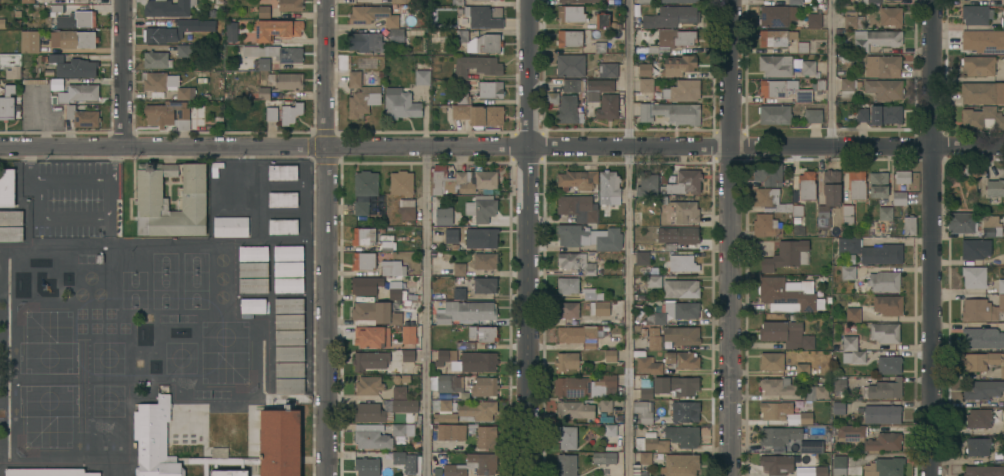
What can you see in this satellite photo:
building: (498, 0)
building: (578, 0)
building: (27, 1)
building: (400, 1)
building: (679, 1)
building: (457, 2)
building: (644, 2)
building: (798, 2)
building: (1002, 2)
building: (290, 5)
building: (167, 7)
building: (57, 8)
building: (264, 11)
building: (571, 13)
building: (975, 15)
building: (481, 16)
building: (777, 16)
building: (671, 17)
building: (811, 17)
building: (890, 17)
building: (852, 18)
building: (77, 19)
building: (602, 20)
building: (1002, 20)
building: (2, 23)
building: (187, 25)
building: (393, 25)
building: (276, 29)
building: (231, 31)
building: (154, 35)
building: (569, 38)
building: (776, 38)
building: (77, 39)
building: (876, 39)
building: (672, 40)
building: (480, 41)
building: (983, 41)
building: (31, 42)
building: (365, 42)
building: (600, 47)
building: (802, 47)
building: (183, 50)
building: (275, 52)
building: (156, 59)
building: (265, 63)
building: (11, 65)
building: (570, 65)
building: (73, 66)
building: (477, 66)
building: (678, 66)
building: (775, 66)
building: (883, 66)
building: (978, 66)
building: (808, 68)
building: (607, 70)
building: (644, 70)
building: (49, 73)
road: (126, 75)
road: (830, 75)
building: (422, 76)
building: (34, 81)
building: (289, 81)
building: (572, 84)
building: (165, 85)
building: (821, 85)
building: (646, 86)
building: (598, 87)
building: (848, 87)
building: (490, 89)
building: (884, 89)
building: (784, 90)
building: (682, 91)
building: (263, 93)
building: (982, 93)
building: (361, 95)
building: (463, 96)
building: (552, 98)
building: (7, 103)
building: (401, 105)
building: (608, 106)
building: (70, 107)
building: (568, 109)
building: (170, 113)
building: (670, 113)
building: (478, 114)
building: (775, 114)
building: (282, 115)
building: (862, 115)
building: (885, 115)
building: (812, 116)
building: (982, 119)
road: (502, 149)
road: (28, 165)
building: (282, 172)
building: (233, 173)
building: (769, 174)
building: (902, 177)
road: (73, 179)
building: (577, 179)
building: (461, 180)
building: (401, 182)
building: (365, 183)
building: (648, 184)
building: (683, 184)
building: (609, 185)
building: (878, 185)
building: (806, 186)
building: (855, 186)
building: (7, 187)
building: (995, 188)
parking lot: (71, 196)
building: (152, 198)
building: (282, 199)
building: (899, 199)
building: (233, 200)
building: (775, 202)
building: (828, 202)
building: (361, 207)
building: (578, 207)
building: (481, 208)
building: (407, 209)
building: (684, 213)
building: (885, 214)
building: (443, 215)
building: (847, 215)
building: (11, 217)
road: (90, 217)
building: (962, 223)
building: (230, 226)
building: (282, 226)
building: (765, 226)
building: (909, 226)
building: (992, 232)
building: (11, 233)
building: (451, 235)
building: (363, 236)
building: (589, 236)
building: (678, 236)
road: (328, 237)
road: (530, 237)
road: (626, 237)
building: (483, 238)
road: (729, 238)
road: (930, 238)
building: (387, 245)
building: (975, 249)
building: (253, 252)
building: (288, 252)
building: (871, 252)
building: (787, 256)
building: (642, 258)
building: (997, 258)
building: (485, 260)
building: (364, 261)
building: (576, 262)
building: (682, 265)
building: (288, 268)
building: (253, 269)
building: (393, 269)
building: (459, 269)
building: (848, 273)
building: (974, 277)
building: (651, 279)
building: (884, 281)
building: (288, 284)
building: (485, 284)
building: (567, 284)
building: (253, 285)
building: (367, 287)
building: (1001, 287)
building: (680, 289)
building: (394, 291)
building: (459, 293)
building: (592, 294)
building: (786, 296)
building: (289, 304)
building: (888, 305)
building: (253, 306)
building: (599, 307)
building: (569, 309)
building: (982, 310)
building: (465, 311)
road: (423, 312)
building: (675, 313)
building: (375, 314)
building: (852, 315)
building: (289, 320)
building: (576, 333)
building: (885, 333)
building: (408, 334)
building: (486, 334)
building: (786, 335)
building: (372, 336)
building: (681, 336)
building: (289, 337)
building: (654, 339)
building: (983, 339)
building: (850, 343)
building: (466, 345)
building: (289, 353)
building: (408, 355)
building: (610, 355)
building: (853, 357)
building: (369, 360)
building: (566, 360)
building: (682, 360)
building: (468, 361)
building: (771, 362)
building: (982, 362)
building: (647, 364)
building: (889, 365)
building: (289, 369)
building: (802, 370)
building: (445, 382)
building: (289, 385)
building: (368, 385)
building: (585, 385)
building: (840, 385)
building: (484, 386)
building: (669, 387)
building: (777, 387)
building: (884, 389)
building: (983, 390)
building: (399, 392)
building: (816, 393)
building: (1003, 401)
building: (605, 404)
building: (838, 408)
building: (575, 409)
building: (385, 410)
building: (464, 411)
building: (643, 411)
building: (775, 411)
building: (685, 412)
building: (882, 415)
building: (805, 418)
building: (978, 419)
building: (610, 429)
building: (402, 430)
building: (998, 430)
building: (451, 432)
building: (851, 432)
building: (486, 436)
building: (682, 436)
building: (155, 437)
building: (566, 437)
building: (778, 437)
building: (372, 439)
building: (884, 442)
building: (650, 443)
building: (270, 445)
building: (978, 447)
building: (811, 448)
building: (1003, 456)
building: (399, 457)
building: (604, 457)
building: (645, 458)
building: (567, 464)
building: (473, 465)
building: (680, 465)
building: (777, 465)
building: (366, 466)
building: (839, 466)
building: (884, 467)
building: (604, 471)
building: (638, 471)
building: (820, 471)
building: (984, 471)
building: (48, 472)
building: (228, 472)

